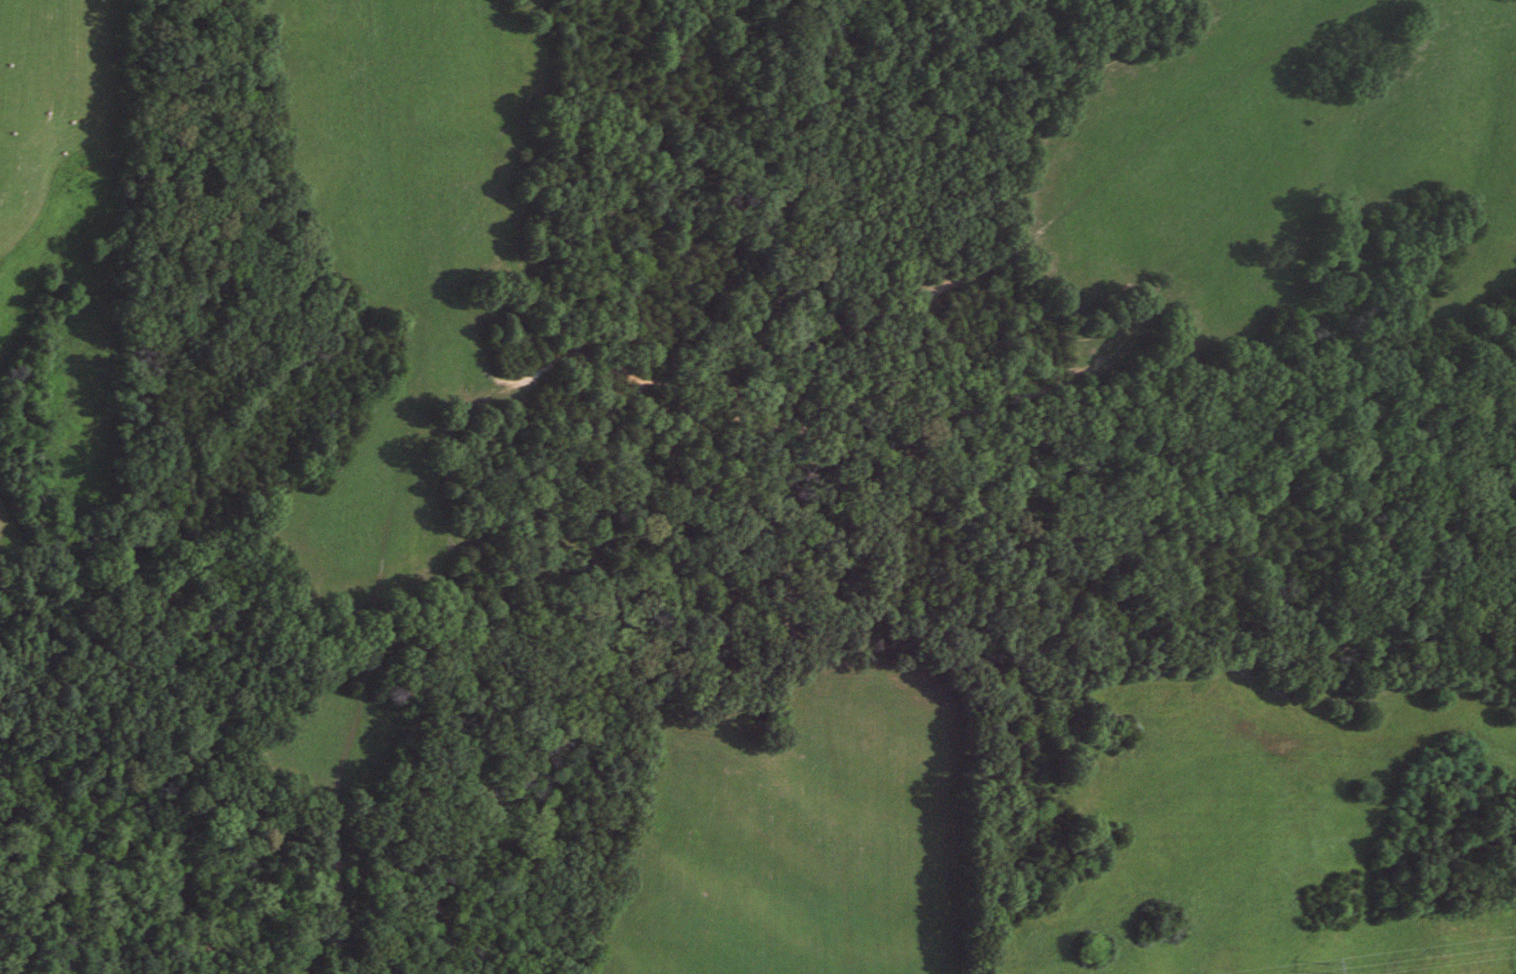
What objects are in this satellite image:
power tower: (1317, 965)

